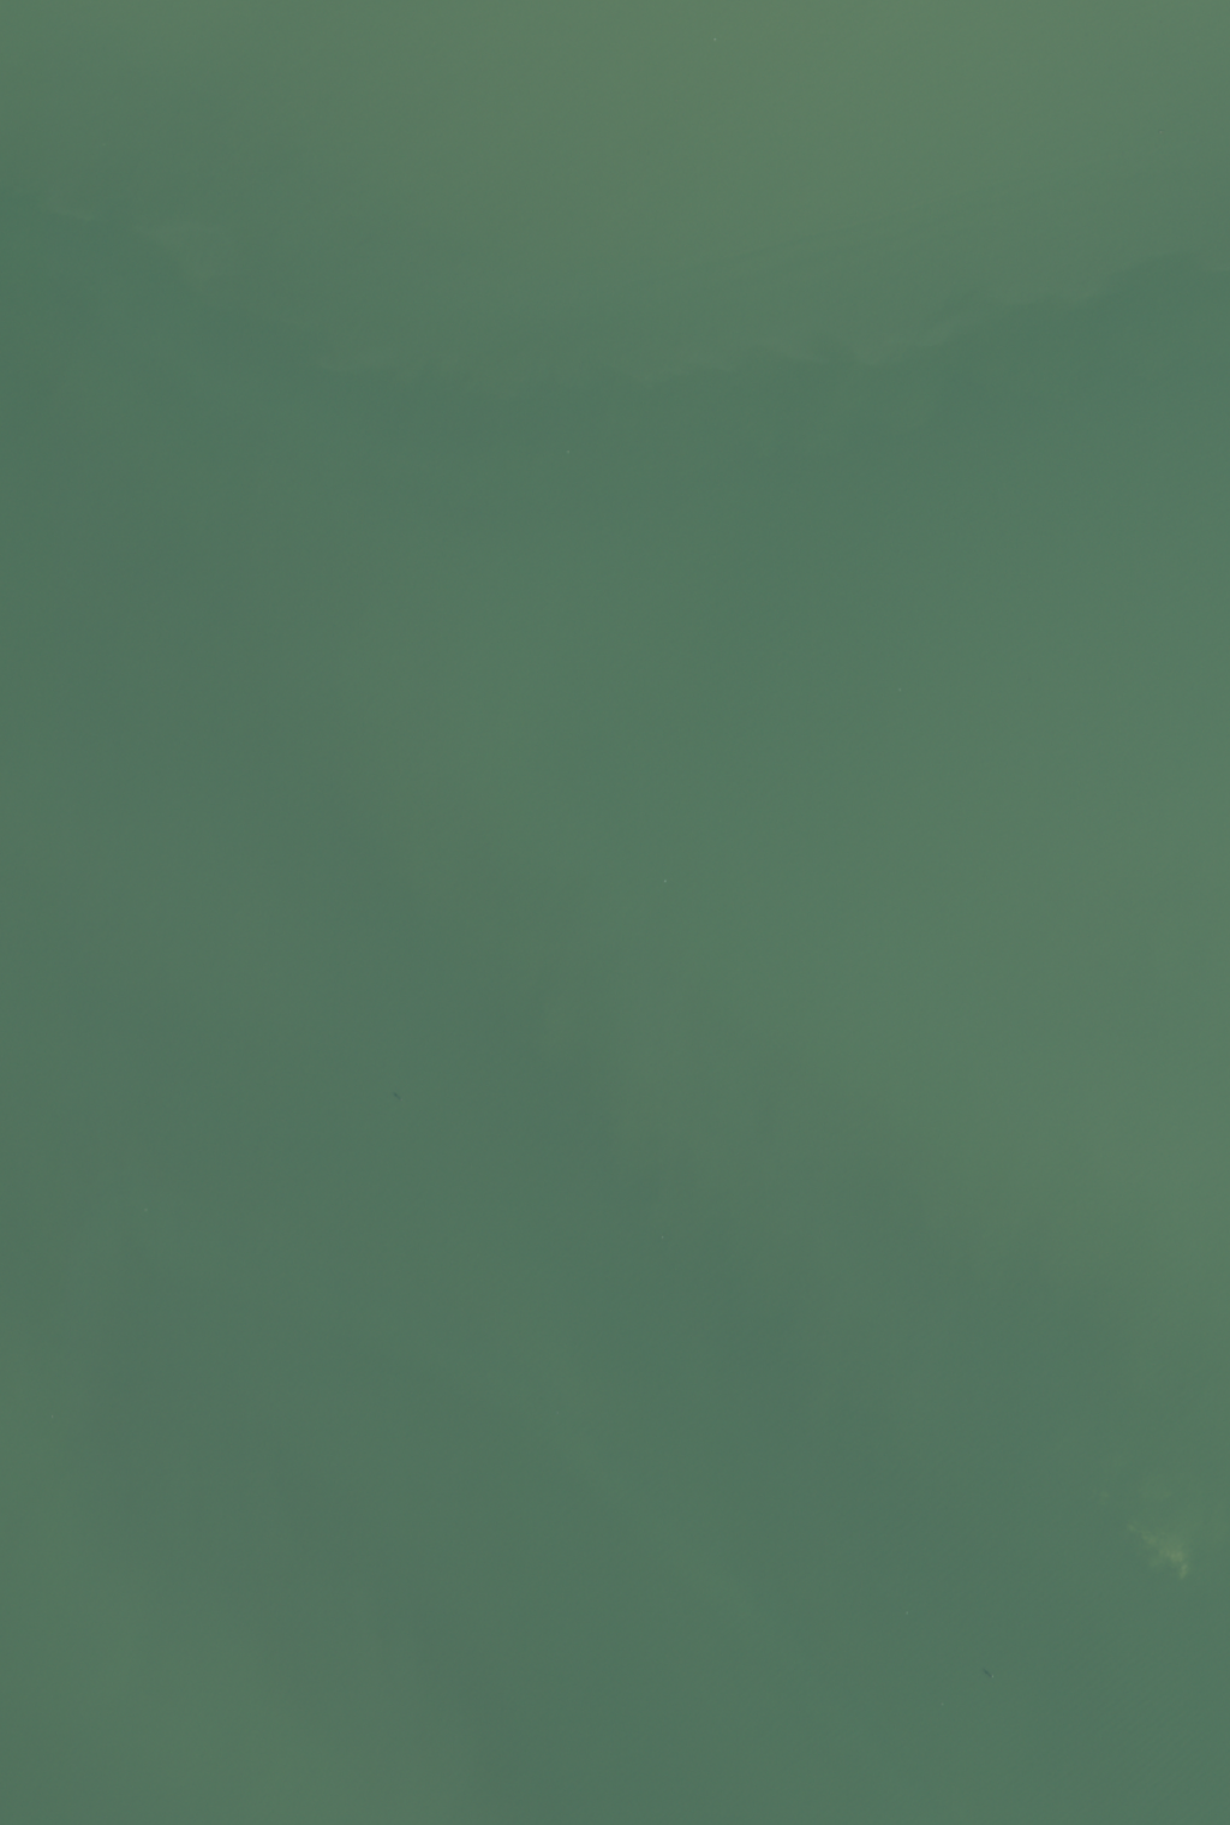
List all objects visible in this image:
river: (1202, 17)

